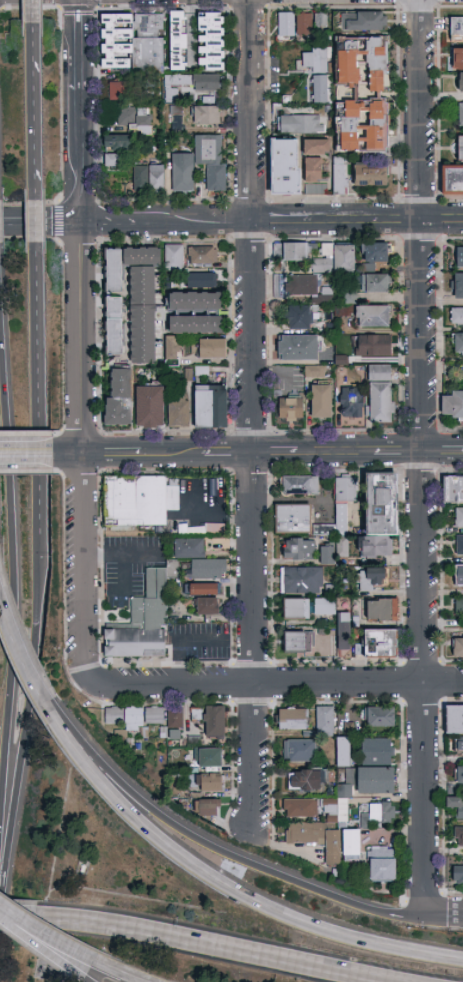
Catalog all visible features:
road: (33, 13)
building: (320, 19)
building: (364, 21)
building: (286, 25)
building: (304, 25)
building: (456, 28)
building: (111, 41)
building: (180, 41)
building: (211, 42)
road: (81, 45)
building: (151, 45)
building: (457, 59)
building: (317, 61)
building: (362, 61)
building: (461, 82)
building: (207, 83)
building: (181, 89)
building: (320, 89)
building: (122, 91)
road: (34, 104)
building: (176, 110)
building: (461, 114)
building: (128, 115)
building: (207, 116)
building: (144, 122)
building: (177, 122)
building: (301, 124)
building: (363, 126)
building: (118, 145)
building: (316, 146)
building: (460, 148)
building: (209, 150)
road: (82, 156)
building: (114, 160)
building: (286, 166)
building: (182, 172)
building: (371, 174)
building: (339, 175)
building: (314, 177)
building: (141, 179)
building: (157, 179)
building: (216, 179)
building: (451, 179)
road: (35, 193)
road: (357, 222)
road: (41, 223)
road: (114, 223)
road: (199, 223)
road: (35, 224)
building: (292, 252)
building: (378, 253)
building: (203, 255)
building: (459, 257)
building: (174, 258)
building: (336, 259)
building: (114, 270)
building: (201, 281)
building: (375, 283)
building: (304, 285)
building: (458, 286)
building: (348, 294)
building: (196, 302)
building: (142, 303)
building: (373, 316)
building: (457, 316)
building: (299, 317)
building: (106, 323)
building: (115, 326)
building: (196, 326)
road: (82, 339)
road: (420, 342)
building: (458, 343)
building: (374, 345)
building: (173, 348)
building: (298, 348)
building: (212, 349)
building: (311, 371)
road: (40, 390)
building: (380, 394)
building: (120, 398)
building: (322, 400)
building: (351, 401)
building: (452, 405)
building: (150, 407)
building: (210, 407)
building: (291, 409)
building: (179, 414)
road: (252, 415)
road: (274, 453)
road: (335, 453)
road: (396, 453)
road: (441, 453)
road: (133, 454)
road: (228, 454)
road: (31, 455)
building: (300, 485)
building: (345, 489)
building: (453, 490)
building: (138, 501)
building: (380, 514)
building: (459, 517)
building: (293, 519)
building: (198, 528)
building: (322, 530)
building: (339, 545)
building: (459, 545)
building: (189, 547)
building: (299, 549)
road: (121, 552)
building: (327, 555)
road: (13, 562)
road: (86, 565)
building: (209, 569)
road: (122, 571)
building: (459, 576)
building: (373, 579)
building: (303, 580)
building: (204, 589)
building: (153, 601)
building: (459, 604)
building: (208, 606)
building: (323, 607)
building: (297, 609)
building: (382, 610)
building: (344, 631)
road: (192, 639)
building: (298, 642)
building: (381, 643)
building: (135, 644)
building: (458, 647)
road: (19, 663)
road: (273, 686)
building: (114, 716)
building: (133, 716)
building: (153, 716)
building: (380, 717)
building: (175, 719)
building: (292, 719)
building: (325, 720)
building: (454, 720)
building: (215, 722)
road: (29, 732)
building: (142, 732)
building: (174, 734)
building: (459, 746)
building: (342, 749)
building: (376, 750)
building: (300, 751)
building: (210, 758)
building: (459, 774)
building: (304, 780)
building: (375, 780)
building: (209, 783)
road: (425, 799)
building: (456, 806)
building: (209, 808)
building: (300, 808)
building: (382, 813)
building: (458, 836)
building: (316, 838)
building: (352, 845)
road: (217, 846)
building: (382, 864)
building: (458, 875)
road: (222, 886)
road: (444, 914)
road: (19, 918)
road: (56, 937)
road: (42, 946)
road: (211, 947)
road: (130, 975)

